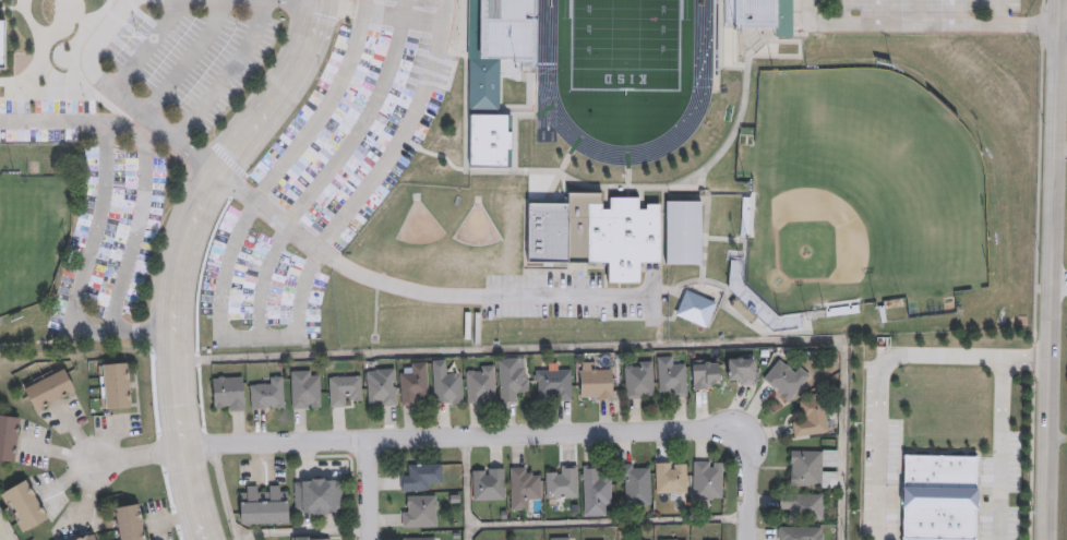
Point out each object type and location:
building: (0, 1)
building: (69, 1)
road: (341, 7)
road: (962, 11)
road: (996, 11)
building: (759, 14)
parking lot: (920, 16)
road: (814, 22)
road: (1063, 22)
road: (938, 23)
building: (3, 41)
road: (146, 44)
park: (627, 44)
building: (495, 45)
road: (188, 58)
parking lot: (205, 64)
road: (229, 71)
track: (548, 87)
road: (123, 96)
building: (490, 141)
road: (1060, 151)
parking lot: (315, 167)
park: (858, 185)
road: (140, 199)
road: (269, 212)
road: (88, 224)
building: (595, 232)
building: (683, 232)
road: (188, 253)
road: (1053, 269)
road: (1059, 280)
road: (481, 297)
building: (695, 308)
road: (260, 336)
road: (884, 369)
building: (741, 370)
building: (705, 374)
building: (671, 376)
building: (786, 379)
building: (511, 380)
building: (595, 381)
building: (638, 381)
building: (480, 383)
building: (553, 383)
building: (413, 384)
building: (446, 384)
building: (115, 385)
building: (47, 387)
building: (381, 387)
building: (305, 388)
building: (345, 391)
building: (228, 393)
building: (266, 394)
building: (811, 417)
road: (514, 434)
building: (8, 437)
road: (999, 449)
road: (142, 455)
building: (813, 467)
building: (421, 476)
building: (671, 478)
building: (707, 480)
building: (562, 482)
building: (488, 483)
building: (635, 484)
building: (523, 487)
road: (465, 488)
road: (368, 490)
building: (596, 491)
building: (317, 496)
building: (938, 497)
building: (263, 504)
building: (24, 505)
building: (802, 505)
building: (419, 511)
road: (606, 520)
building: (128, 523)
building: (801, 532)
building: (85, 538)
building: (308, 538)
building: (419, 538)
building: (563, 539)
building: (672, 539)

